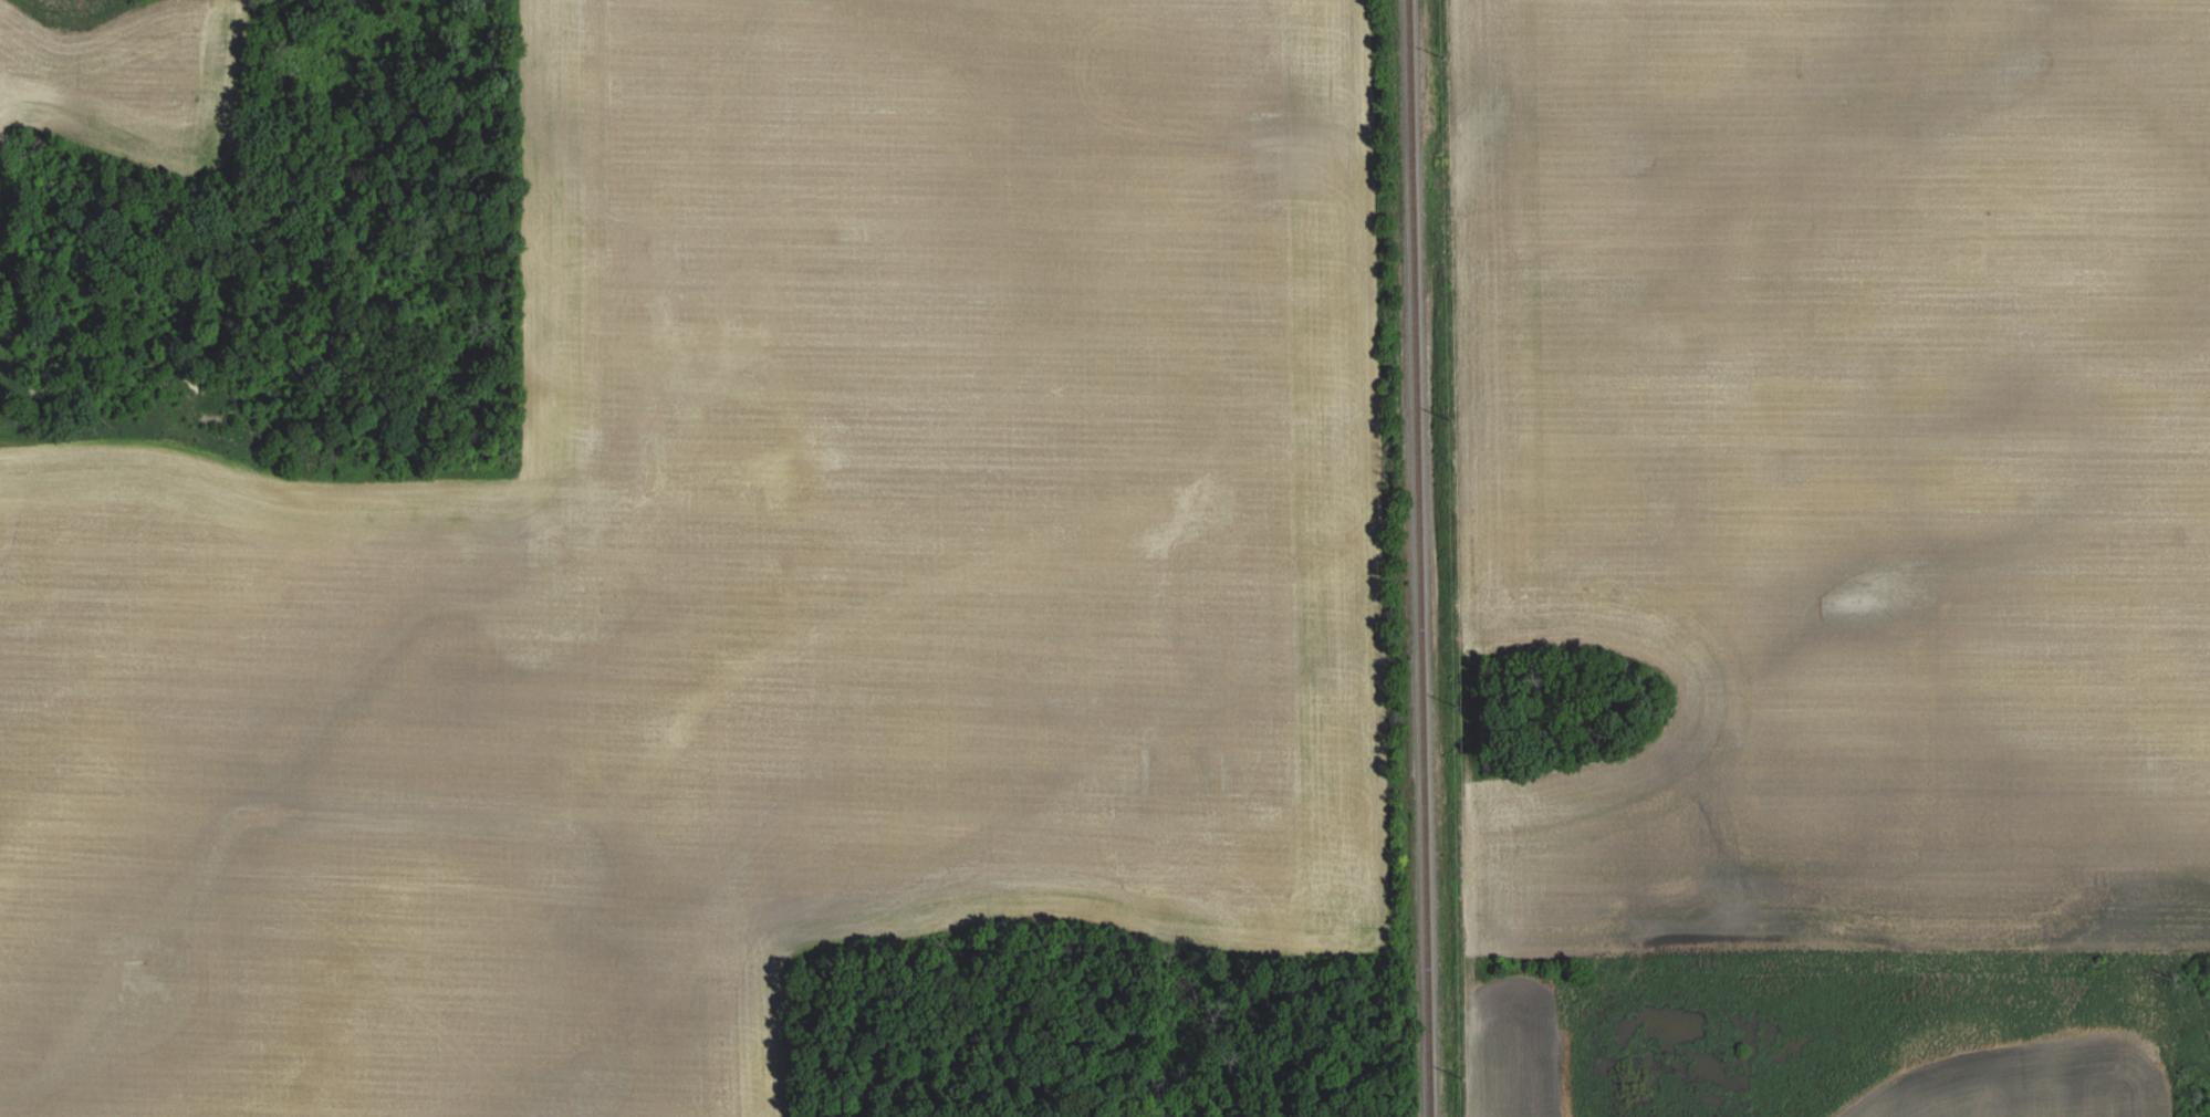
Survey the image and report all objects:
railway: (1416, 558)

